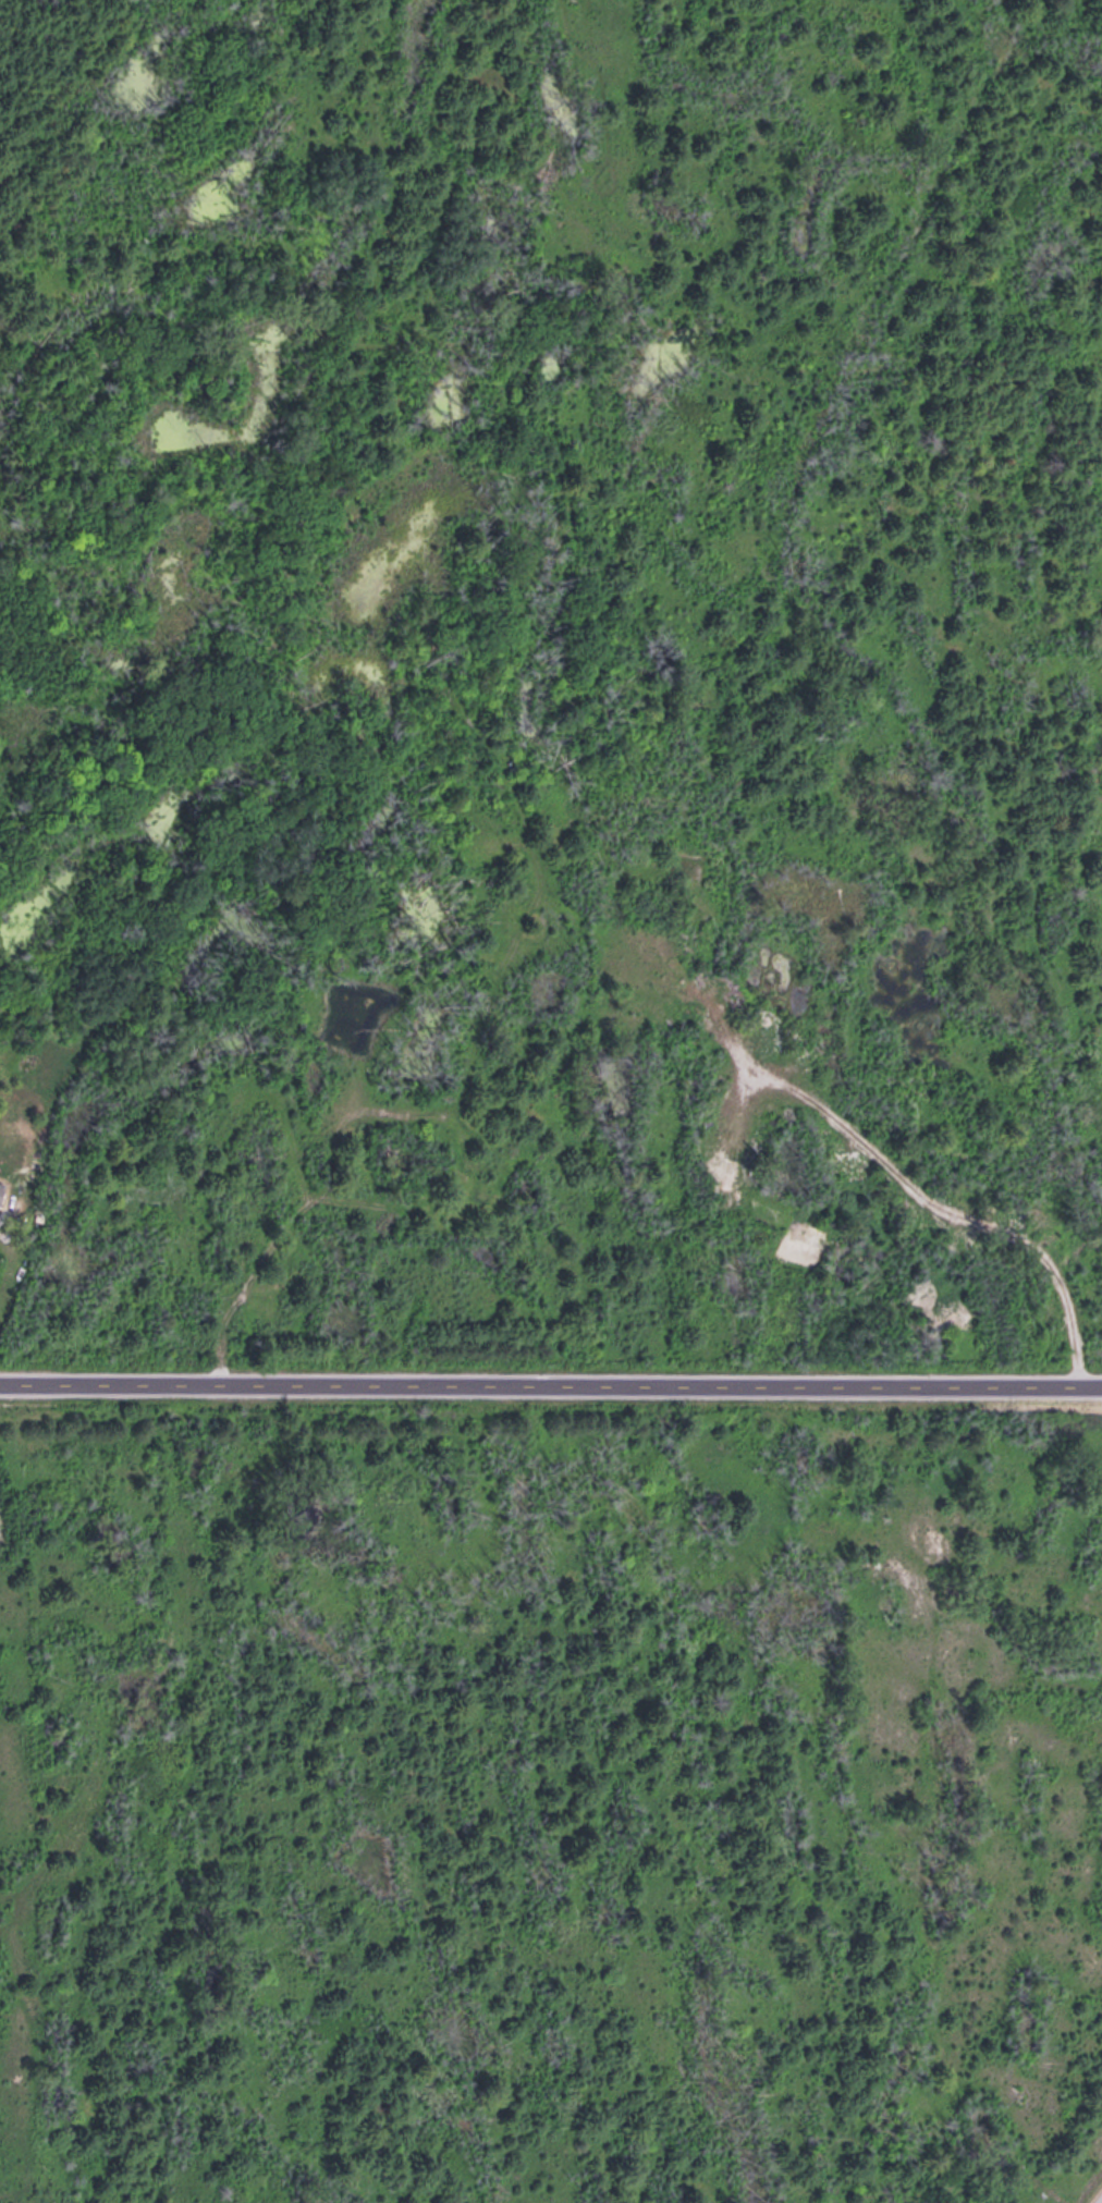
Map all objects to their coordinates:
building: (22, 1091)
building: (11, 1163)
road: (942, 1214)
road: (551, 1375)

